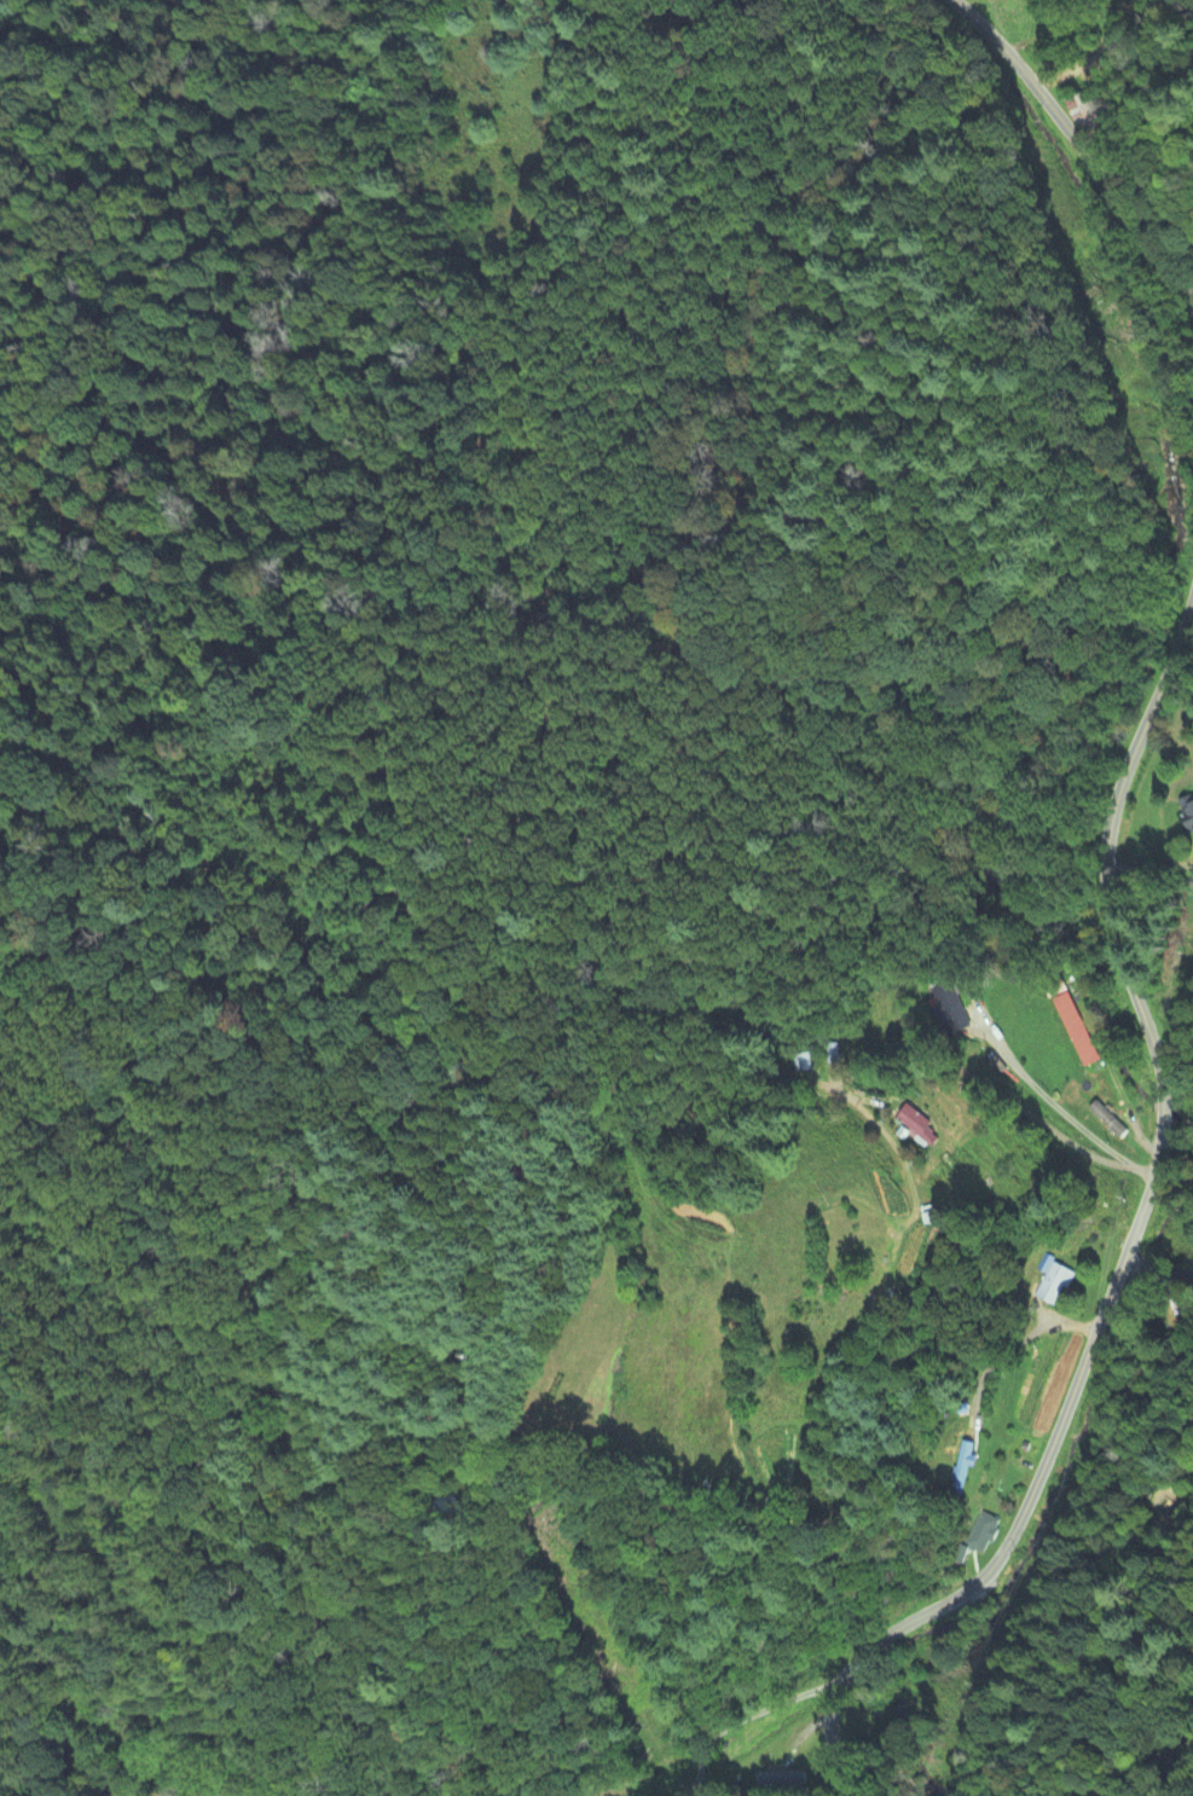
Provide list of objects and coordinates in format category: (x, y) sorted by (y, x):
road: (1083, 147)
building: (1188, 817)
road: (1118, 928)
building: (952, 1007)
building: (1071, 1021)
building: (1106, 1119)
building: (919, 1126)
road: (1160, 1270)
building: (1053, 1281)
building: (979, 1536)
road: (994, 1557)
road: (737, 1726)
building: (782, 1779)

